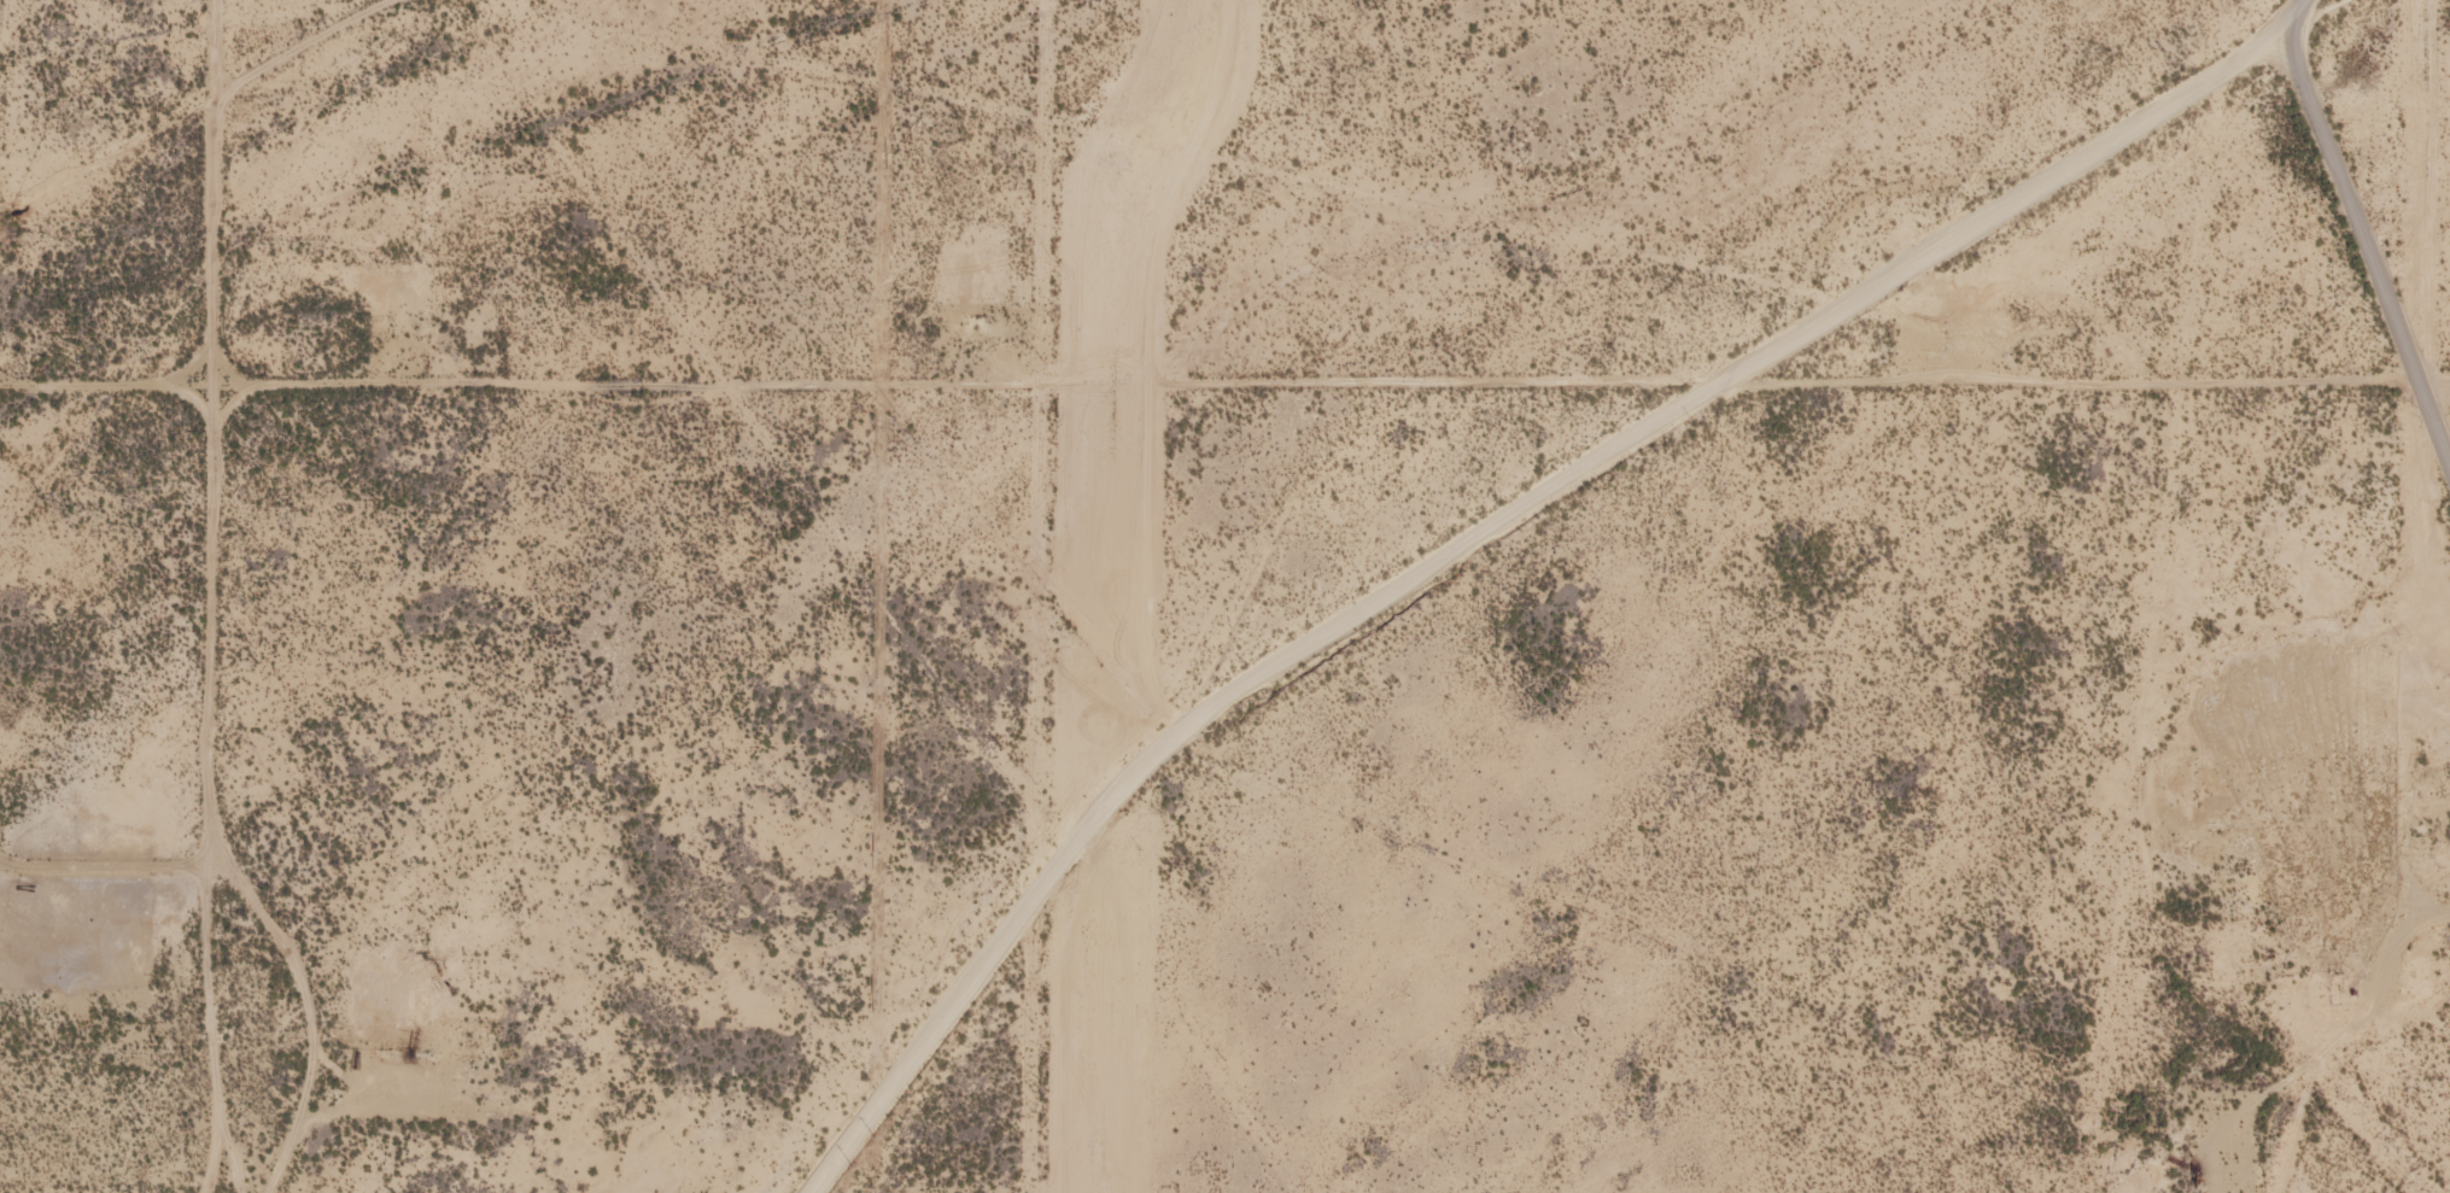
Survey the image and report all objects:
road: (2351, 306)
road: (1200, 388)
road: (217, 417)
road: (1504, 515)
road: (115, 866)
road: (210, 867)
road: (310, 1006)
road: (215, 1031)
road: (234, 1153)

